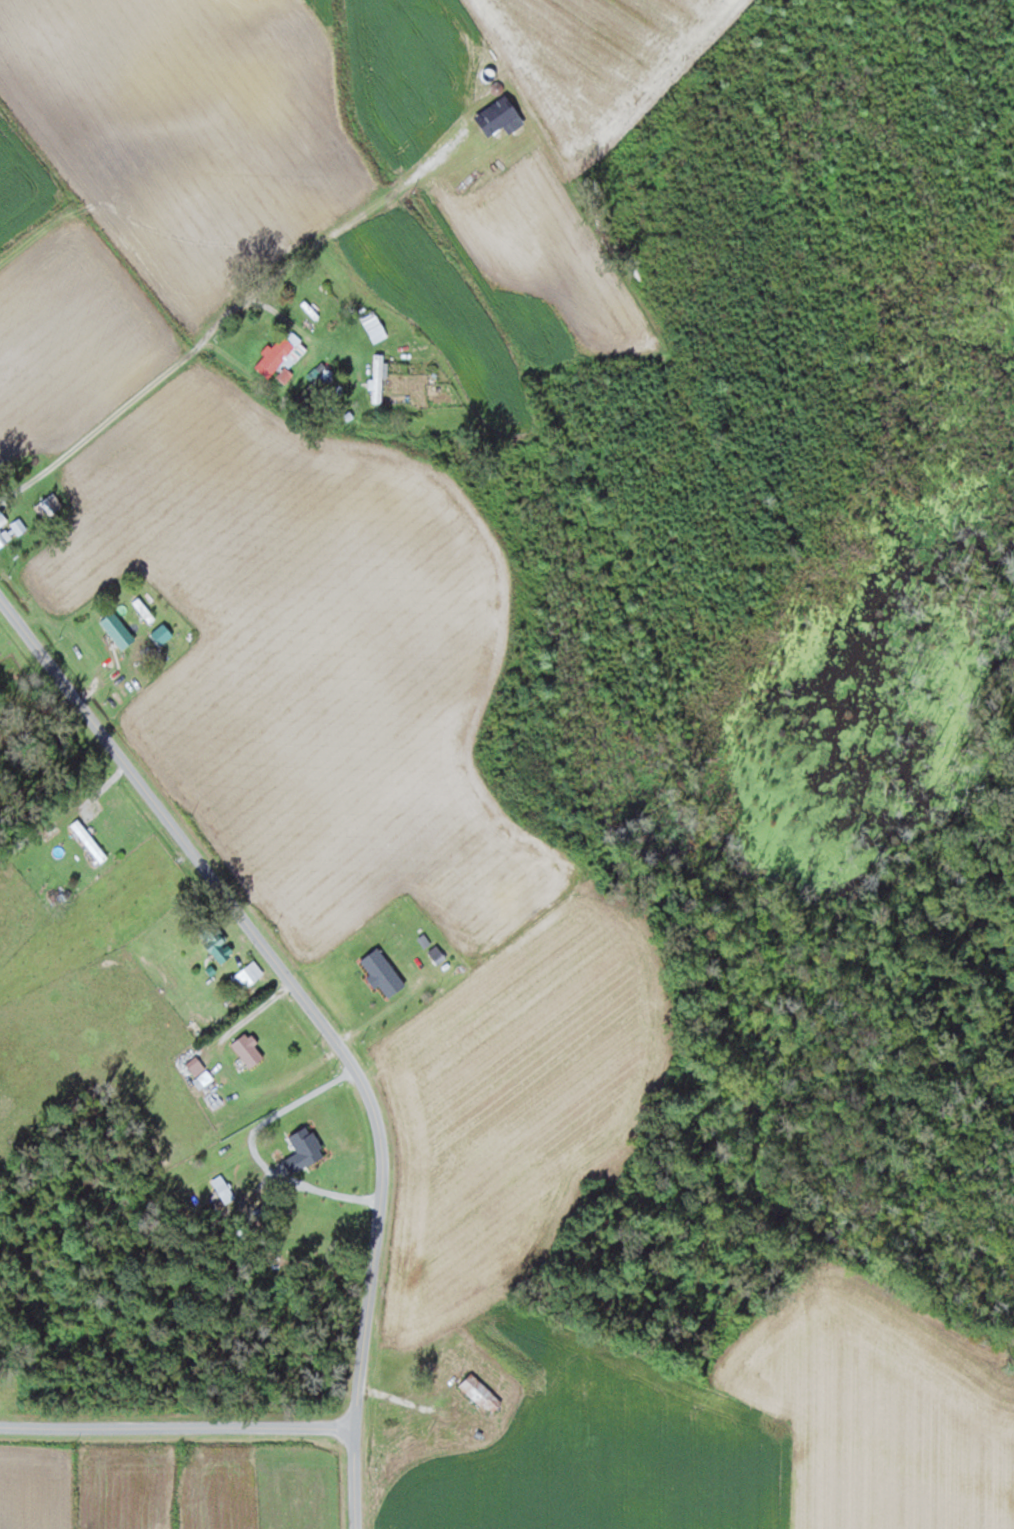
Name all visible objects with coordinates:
building: (376, 329)
building: (276, 355)
building: (285, 373)
building: (379, 378)
building: (320, 388)
road: (113, 431)
building: (50, 502)
building: (4, 529)
building: (119, 629)
building: (89, 840)
building: (213, 937)
building: (383, 972)
building: (250, 973)
road: (322, 1016)
building: (249, 1048)
building: (308, 1145)
building: (224, 1188)
building: (481, 1393)
building: (412, 1419)
road: (178, 1429)

